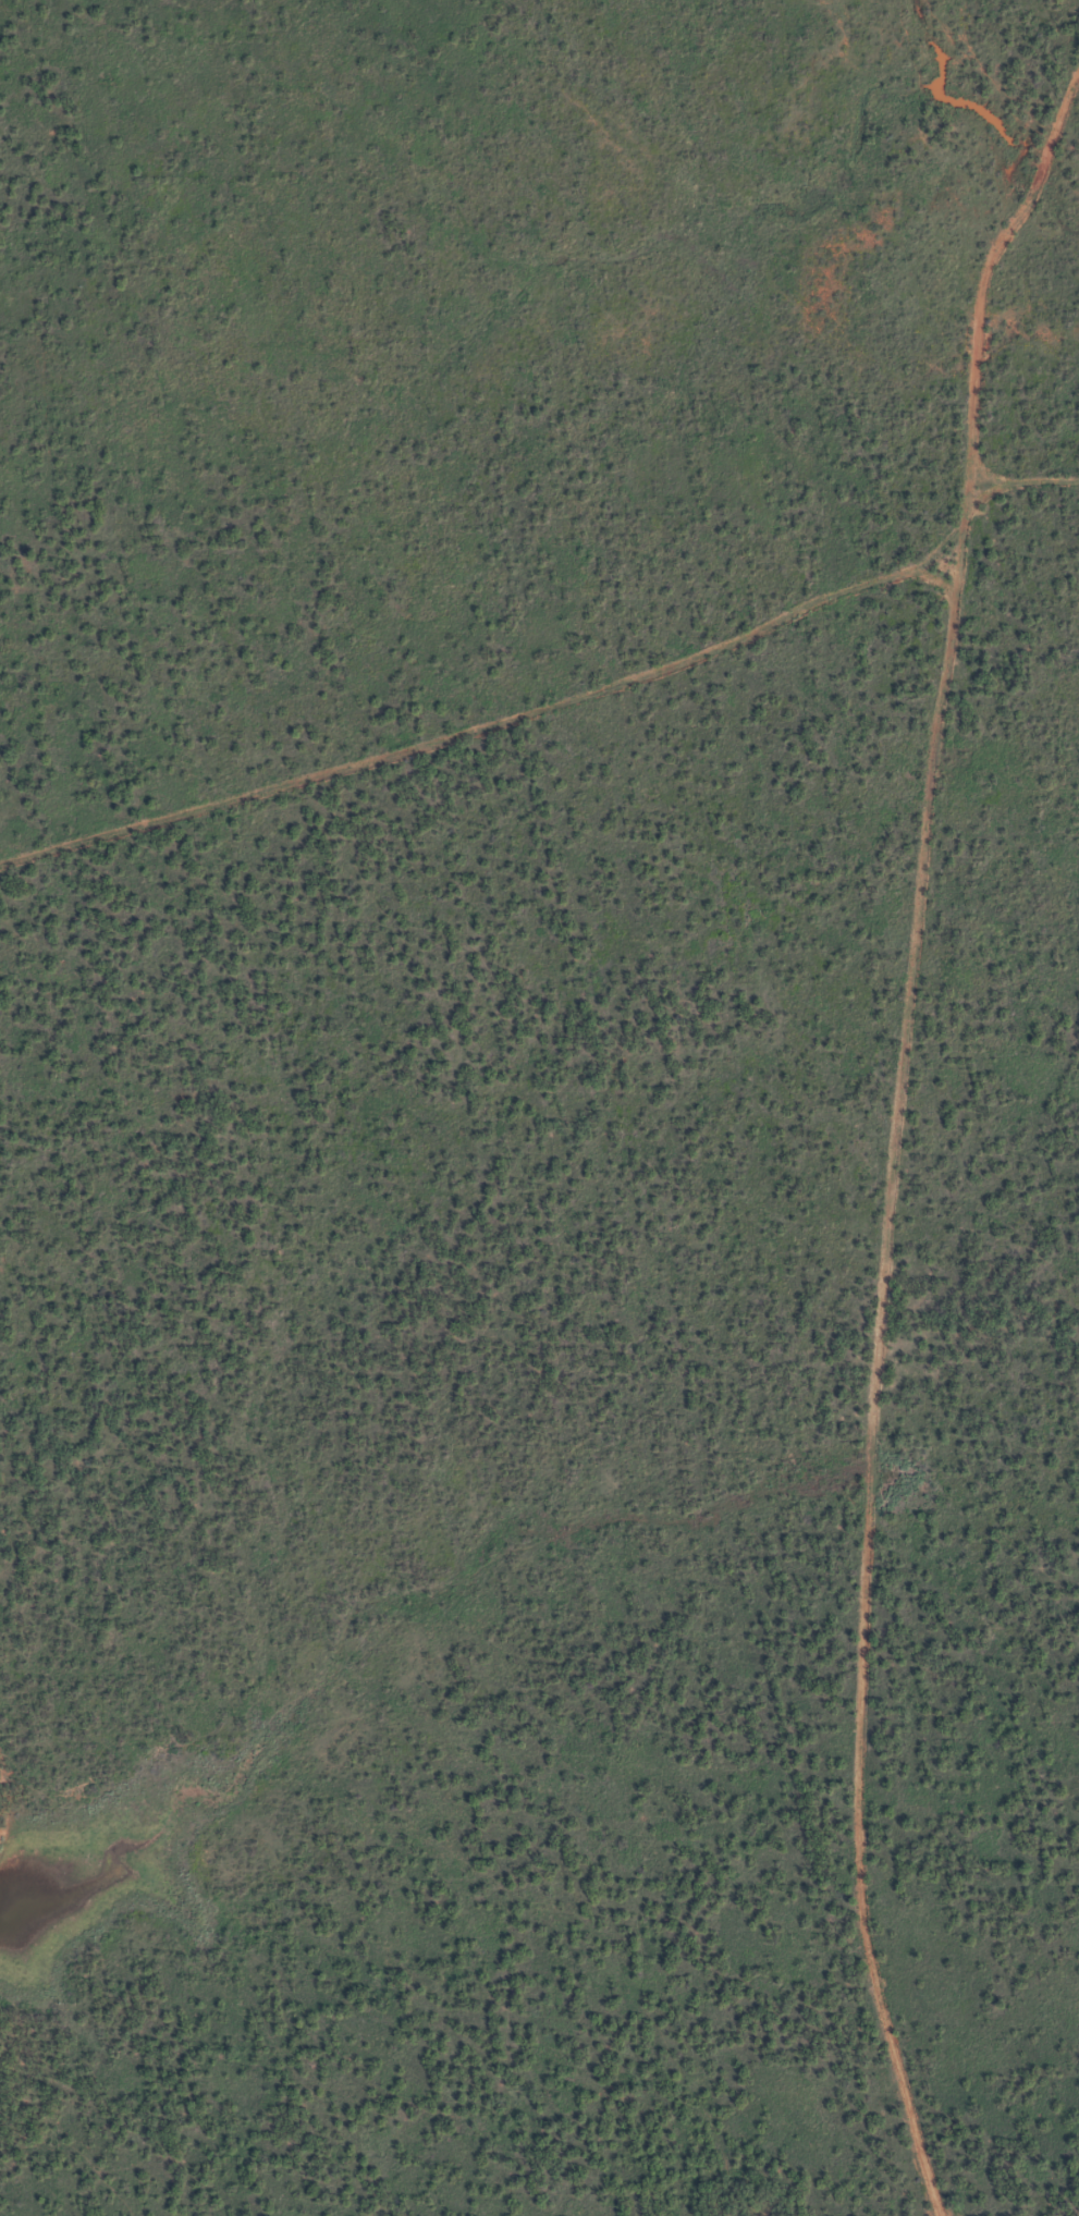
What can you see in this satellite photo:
road: (1020, 461)
road: (912, 1143)

